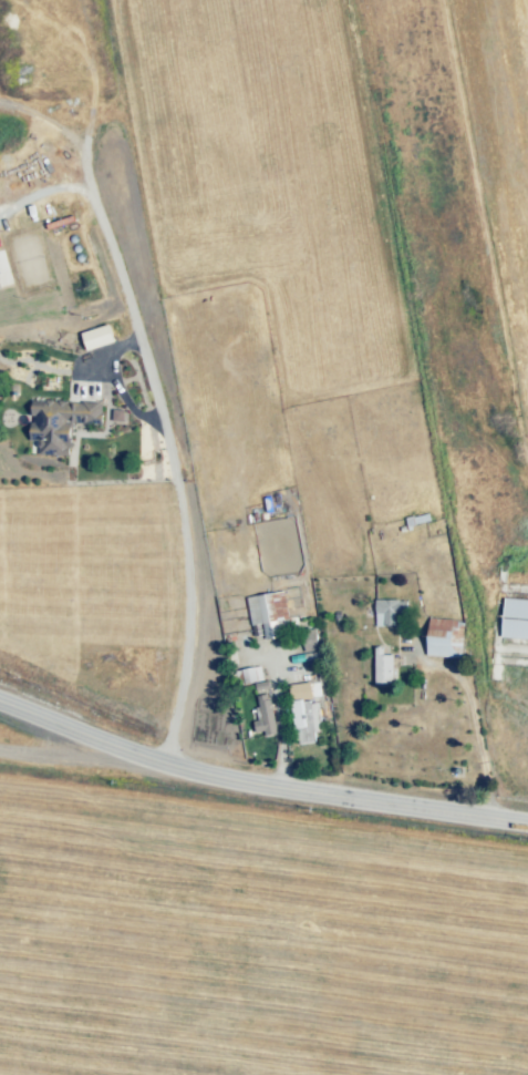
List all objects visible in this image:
building: (56, 427)
road: (168, 455)
building: (272, 610)
building: (389, 611)
building: (515, 620)
building: (302, 641)
building: (442, 645)
building: (307, 659)
building: (381, 664)
building: (251, 676)
building: (300, 690)
building: (267, 711)
building: (306, 720)
road: (281, 724)
road: (258, 796)
crop: (247, 933)

